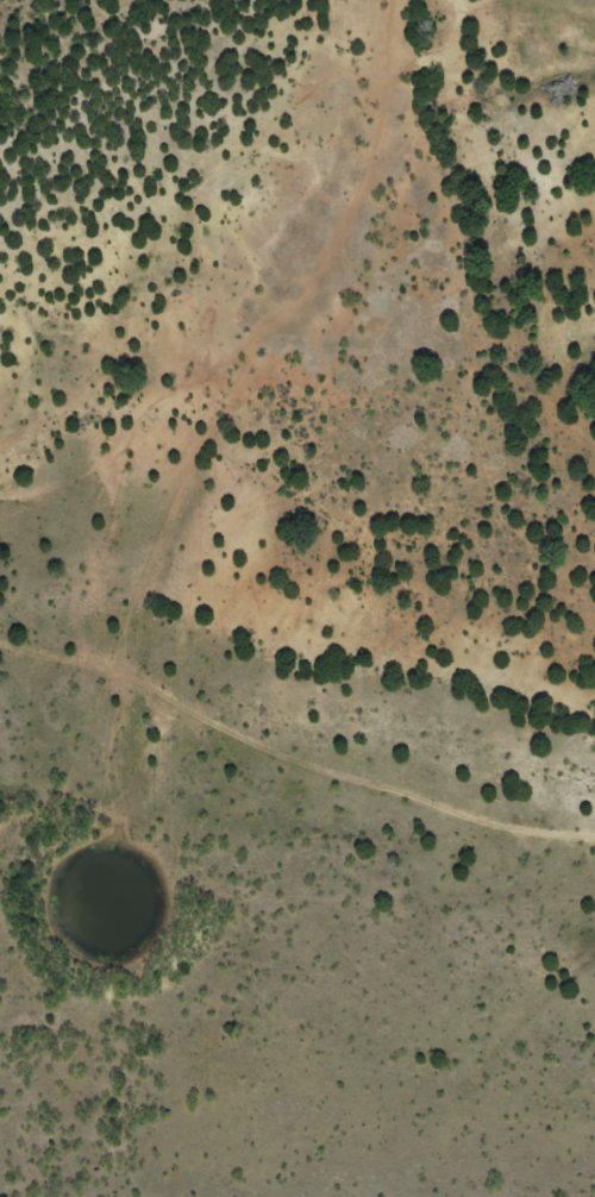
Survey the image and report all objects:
road: (296, 324)
road: (292, 796)

